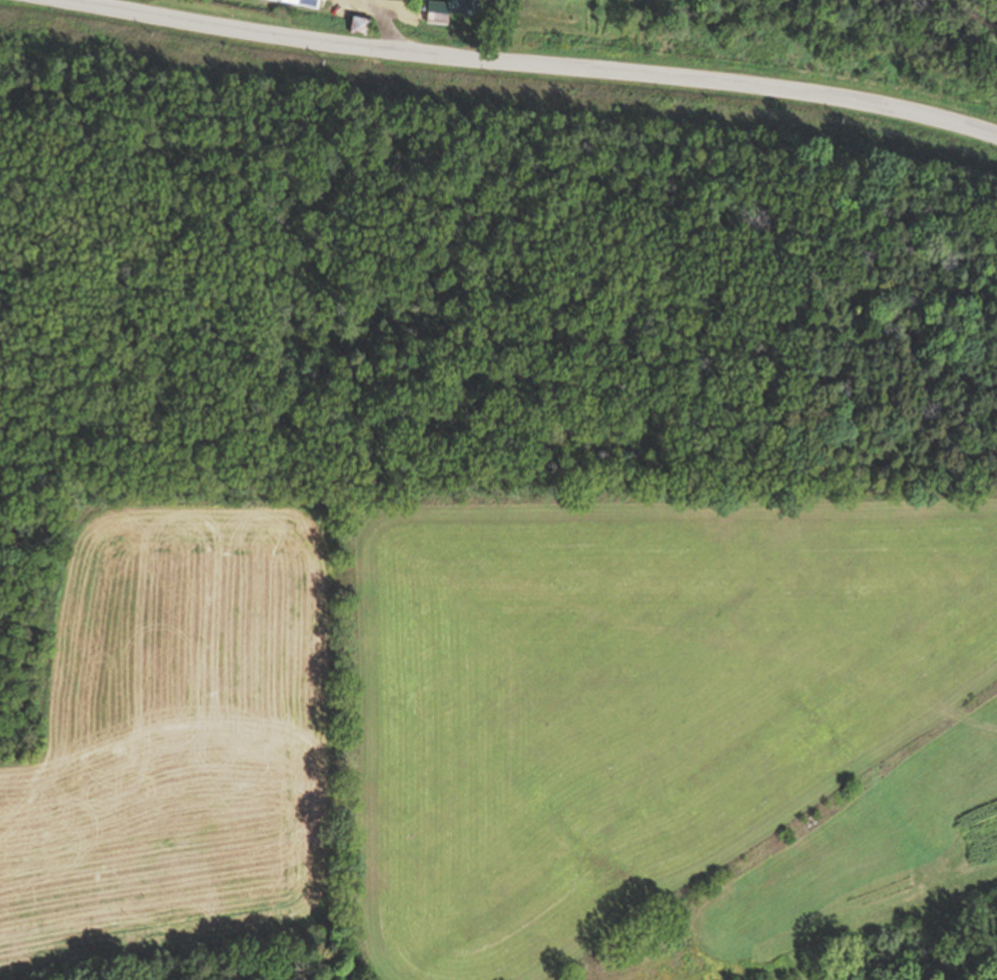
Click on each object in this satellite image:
road: (361, 2)
building: (302, 3)
building: (465, 6)
road: (386, 22)
building: (361, 27)
road: (533, 63)
road: (970, 726)

